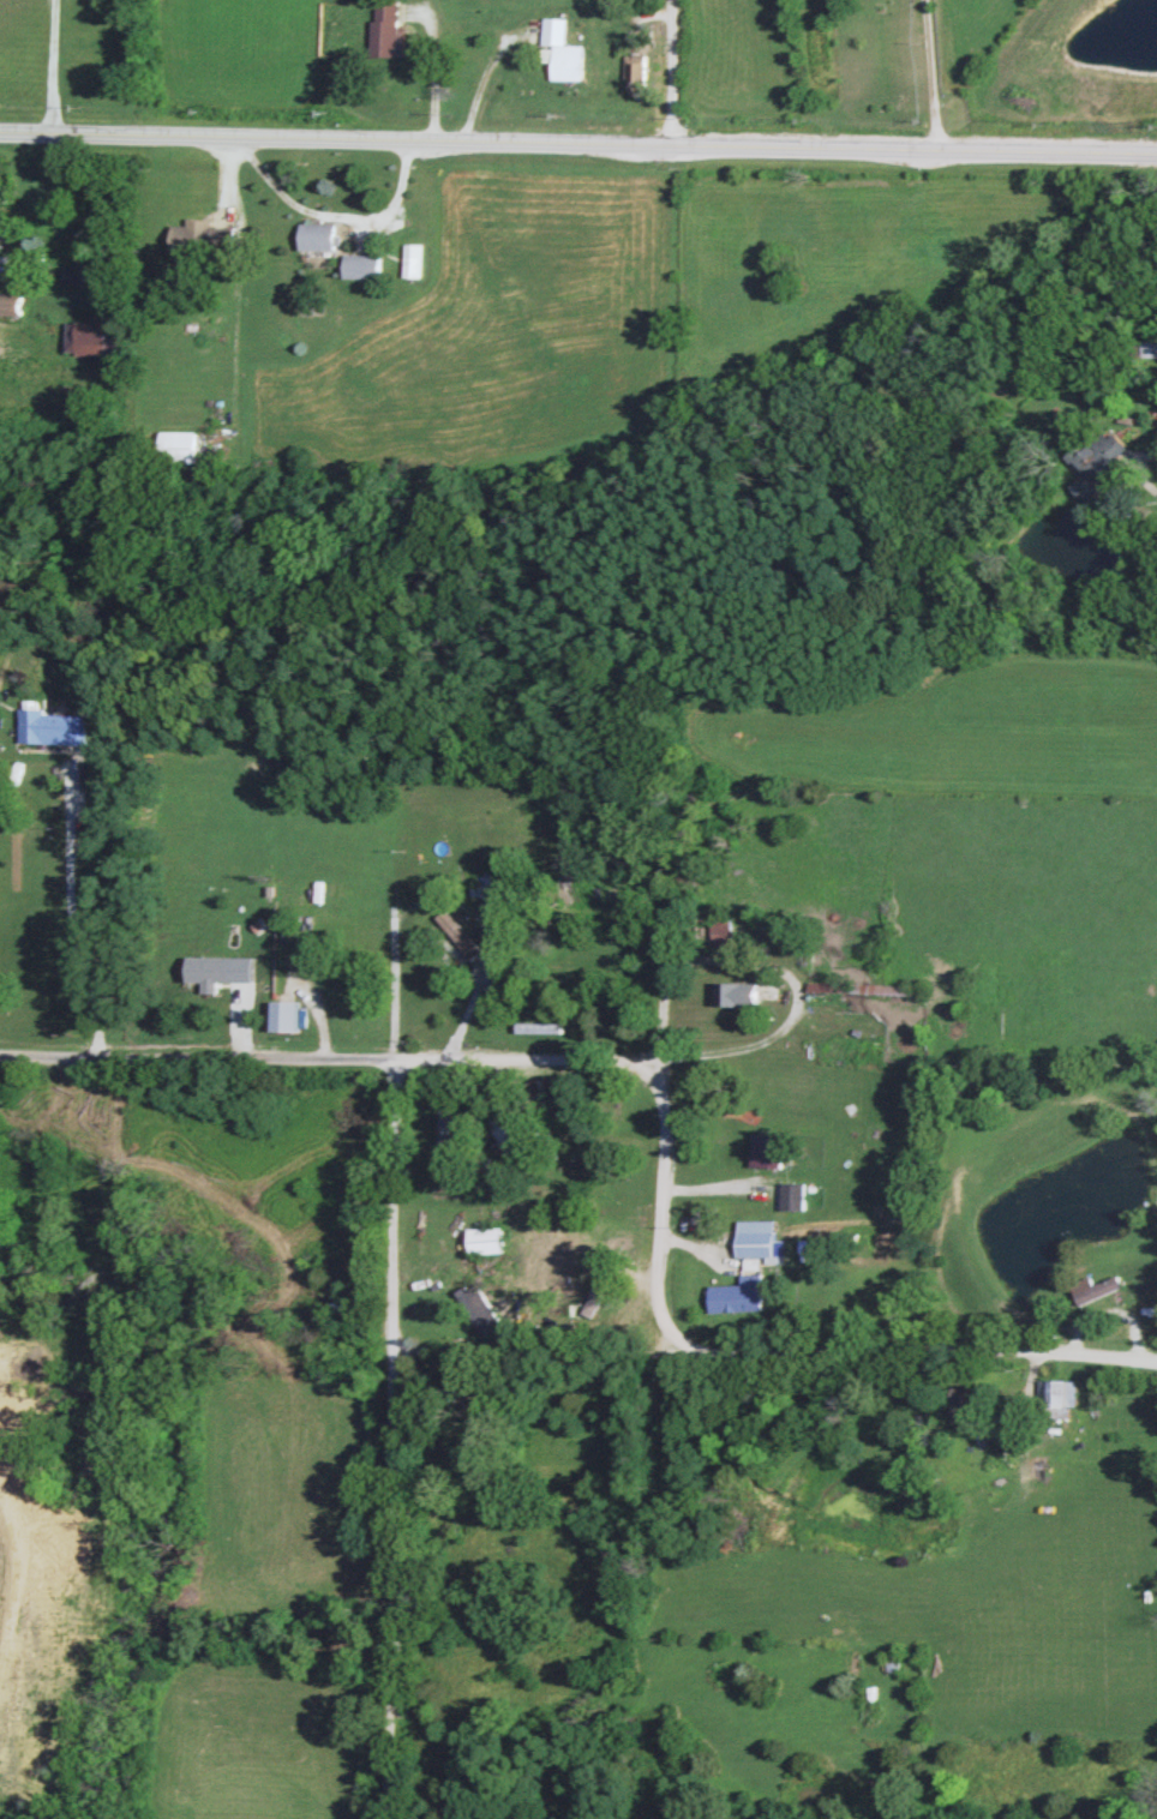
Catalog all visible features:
building: (382, 29)
building: (559, 50)
road: (677, 73)
road: (577, 145)
building: (197, 236)
building: (325, 236)
building: (362, 265)
building: (409, 268)
building: (74, 276)
building: (13, 304)
building: (97, 338)
building: (1149, 350)
building: (181, 444)
building: (1093, 466)
building: (0, 662)
building: (54, 727)
building: (455, 933)
building: (204, 969)
building: (736, 995)
building: (281, 1016)
road: (314, 1045)
building: (533, 1094)
building: (502, 1128)
building: (760, 1151)
building: (791, 1196)
road: (659, 1200)
building: (754, 1238)
building: (484, 1241)
building: (1093, 1290)
building: (591, 1292)
building: (736, 1296)
road: (392, 1307)
building: (479, 1313)
road: (691, 1338)
road: (672, 1352)
building: (1050, 1394)

